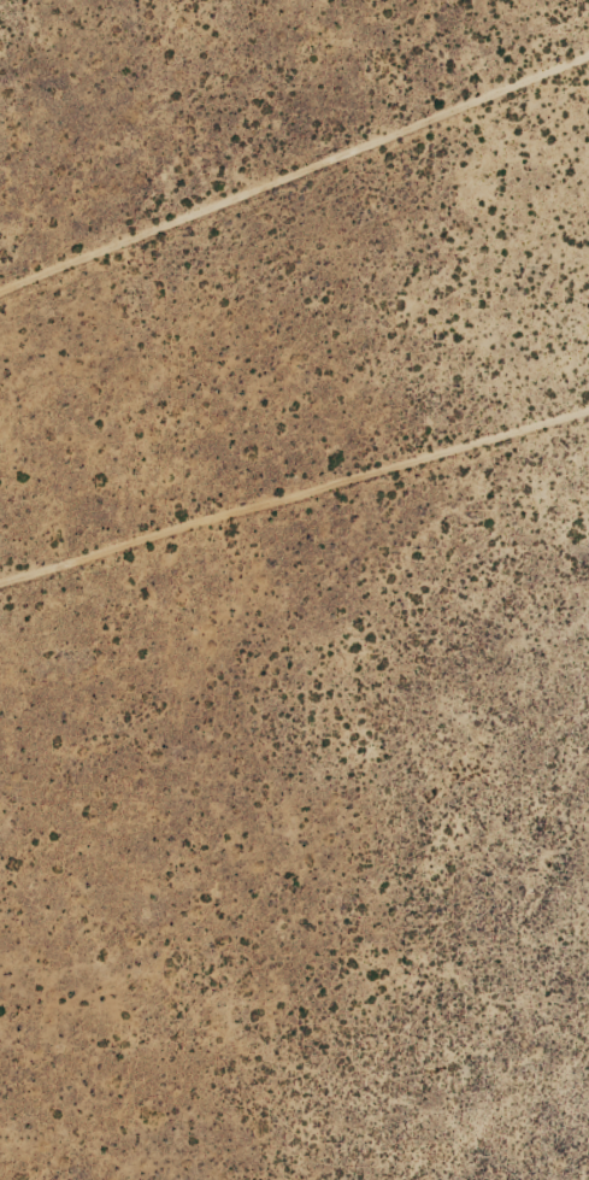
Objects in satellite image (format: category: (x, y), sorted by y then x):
road: (294, 159)

